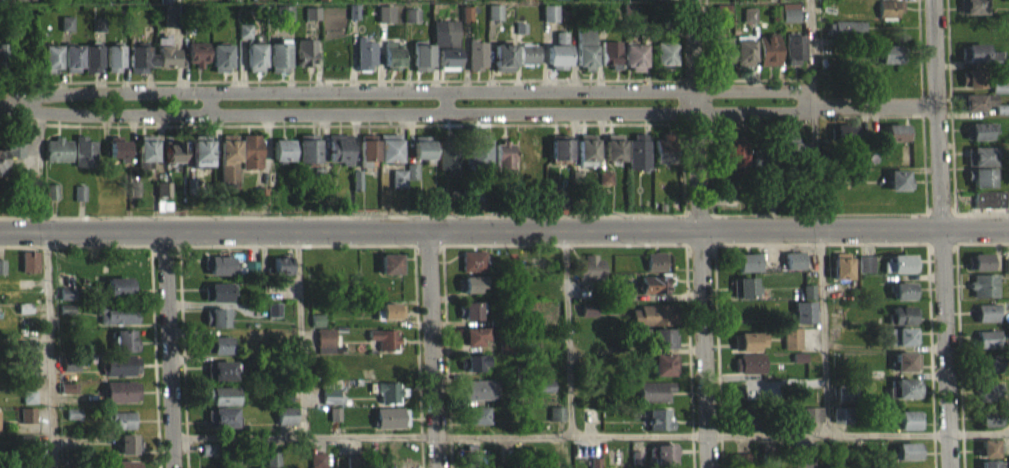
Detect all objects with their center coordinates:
building: (886, 0)
building: (787, 2)
building: (557, 3)
building: (638, 3)
building: (653, 3)
building: (164, 5)
building: (971, 13)
building: (889, 17)
building: (494, 21)
building: (789, 21)
building: (310, 22)
building: (549, 22)
building: (384, 23)
building: (749, 23)
building: (167, 24)
building: (410, 24)
building: (65, 32)
building: (845, 38)
building: (243, 39)
building: (444, 41)
building: (560, 46)
road: (808, 51)
building: (584, 57)
building: (794, 57)
building: (743, 59)
building: (767, 59)
building: (723, 60)
building: (305, 61)
building: (164, 62)
building: (364, 62)
building: (528, 62)
building: (663, 62)
building: (978, 62)
building: (196, 63)
building: (476, 63)
building: (610, 63)
building: (889, 63)
building: (277, 65)
building: (393, 65)
building: (420, 65)
building: (556, 65)
building: (633, 65)
building: (253, 66)
building: (447, 66)
building: (503, 66)
building: (49, 67)
building: (71, 67)
building: (90, 67)
building: (112, 67)
building: (219, 67)
building: (138, 68)
building: (1007, 70)
building: (970, 87)
road: (417, 100)
road: (872, 108)
building: (974, 110)
road: (207, 111)
road: (445, 111)
road: (10, 113)
road: (934, 119)
road: (415, 122)
building: (979, 139)
building: (843, 141)
building: (896, 141)
building: (117, 156)
building: (227, 156)
building: (388, 156)
building: (422, 156)
building: (585, 156)
building: (613, 156)
building: (793, 156)
building: (12, 157)
building: (146, 157)
building: (338, 157)
building: (559, 157)
building: (662, 158)
building: (57, 159)
building: (249, 159)
building: (280, 159)
building: (307, 159)
building: (367, 159)
building: (173, 160)
building: (636, 160)
building: (731, 160)
building: (84, 161)
building: (200, 161)
building: (476, 162)
building: (447, 165)
building: (978, 165)
building: (503, 167)
building: (1, 171)
building: (411, 180)
building: (227, 182)
building: (604, 186)
building: (979, 186)
building: (397, 187)
building: (897, 189)
building: (163, 197)
building: (50, 200)
building: (79, 201)
building: (473, 201)
building: (259, 204)
building: (988, 208)
road: (698, 234)
road: (504, 238)
building: (793, 269)
building: (29, 270)
building: (472, 270)
building: (654, 270)
building: (746, 271)
building: (977, 271)
building: (390, 272)
building: (865, 272)
building: (900, 273)
building: (1007, 273)
building: (218, 274)
building: (281, 274)
building: (1, 275)
building: (840, 275)
building: (589, 276)
building: (469, 293)
building: (653, 293)
building: (983, 294)
building: (119, 295)
building: (743, 297)
building: (808, 300)
building: (903, 300)
building: (216, 301)
building: (67, 302)
building: (66, 317)
building: (273, 318)
building: (586, 318)
building: (391, 319)
building: (471, 319)
building: (803, 321)
building: (986, 321)
building: (117, 323)
building: (652, 324)
building: (903, 324)
building: (216, 326)
building: (316, 329)
road: (824, 335)
building: (471, 345)
building: (902, 345)
building: (384, 347)
building: (662, 347)
building: (791, 347)
building: (987, 348)
building: (122, 349)
building: (326, 349)
building: (747, 350)
road: (170, 351)
road: (431, 353)
road: (944, 353)
building: (28, 354)
building: (217, 354)
building: (504, 356)
building: (798, 366)
building: (475, 370)
building: (905, 370)
building: (748, 372)
building: (990, 372)
building: (70, 373)
building: (663, 373)
building: (120, 374)
building: (219, 379)
building: (544, 395)
building: (68, 397)
building: (904, 397)
building: (479, 398)
building: (121, 400)
building: (388, 400)
building: (653, 400)
building: (331, 401)
building: (990, 401)
building: (845, 402)
building: (223, 404)
building: (285, 404)
building: (29, 405)
building: (73, 422)
building: (555, 422)
building: (334, 423)
building: (812, 423)
building: (841, 423)
building: (27, 424)
building: (285, 424)
building: (474, 424)
building: (220, 426)
building: (390, 426)
building: (744, 426)
building: (990, 427)
building: (658, 428)
building: (908, 428)
building: (119, 429)
road: (722, 434)
building: (127, 452)
building: (987, 457)
building: (208, 458)
building: (907, 459)
building: (661, 460)
building: (272, 464)
building: (317, 464)
building: (635, 464)
building: (741, 464)
building: (800, 467)

